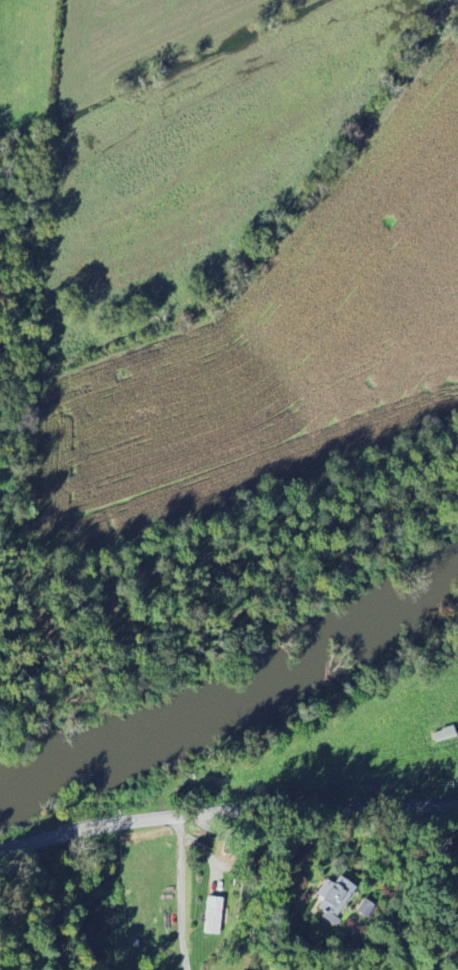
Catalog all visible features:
river: (236, 705)
road: (226, 810)
road: (277, 879)
road: (180, 892)
building: (331, 897)
road: (50, 902)
building: (212, 915)

